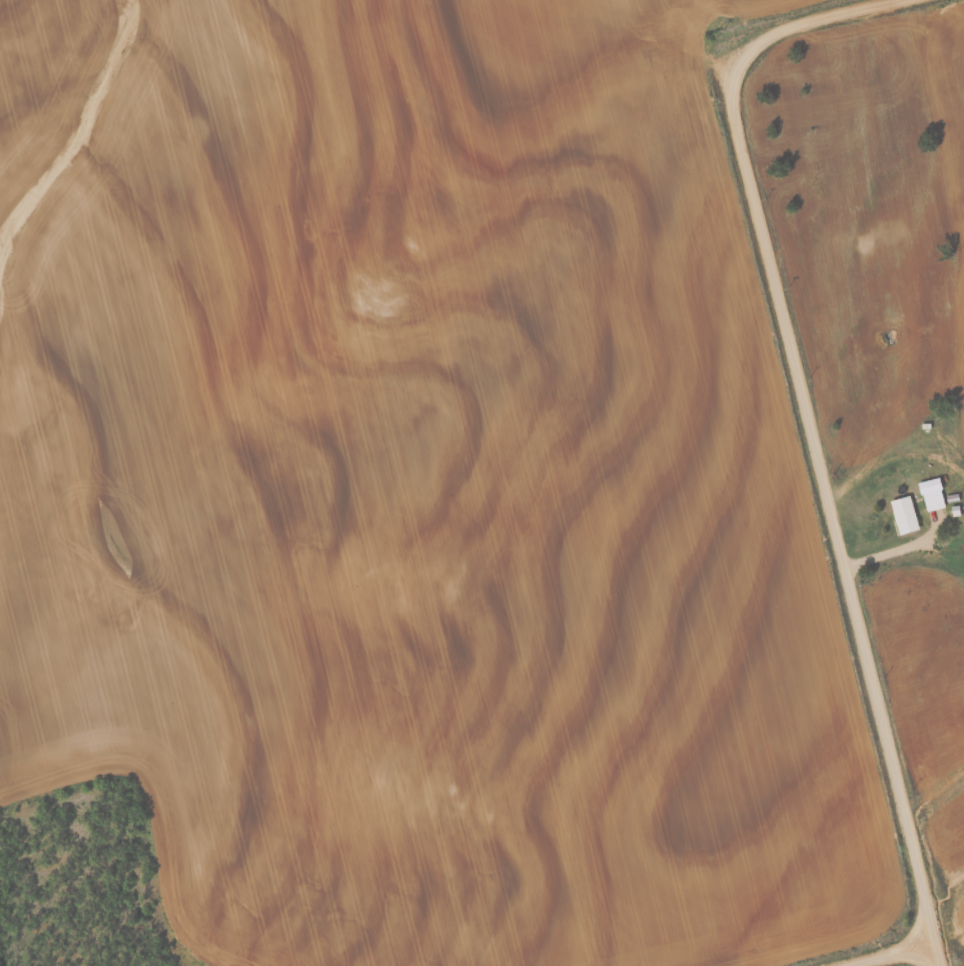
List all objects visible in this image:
road: (811, 428)
building: (934, 495)
building: (906, 515)
road: (886, 954)

